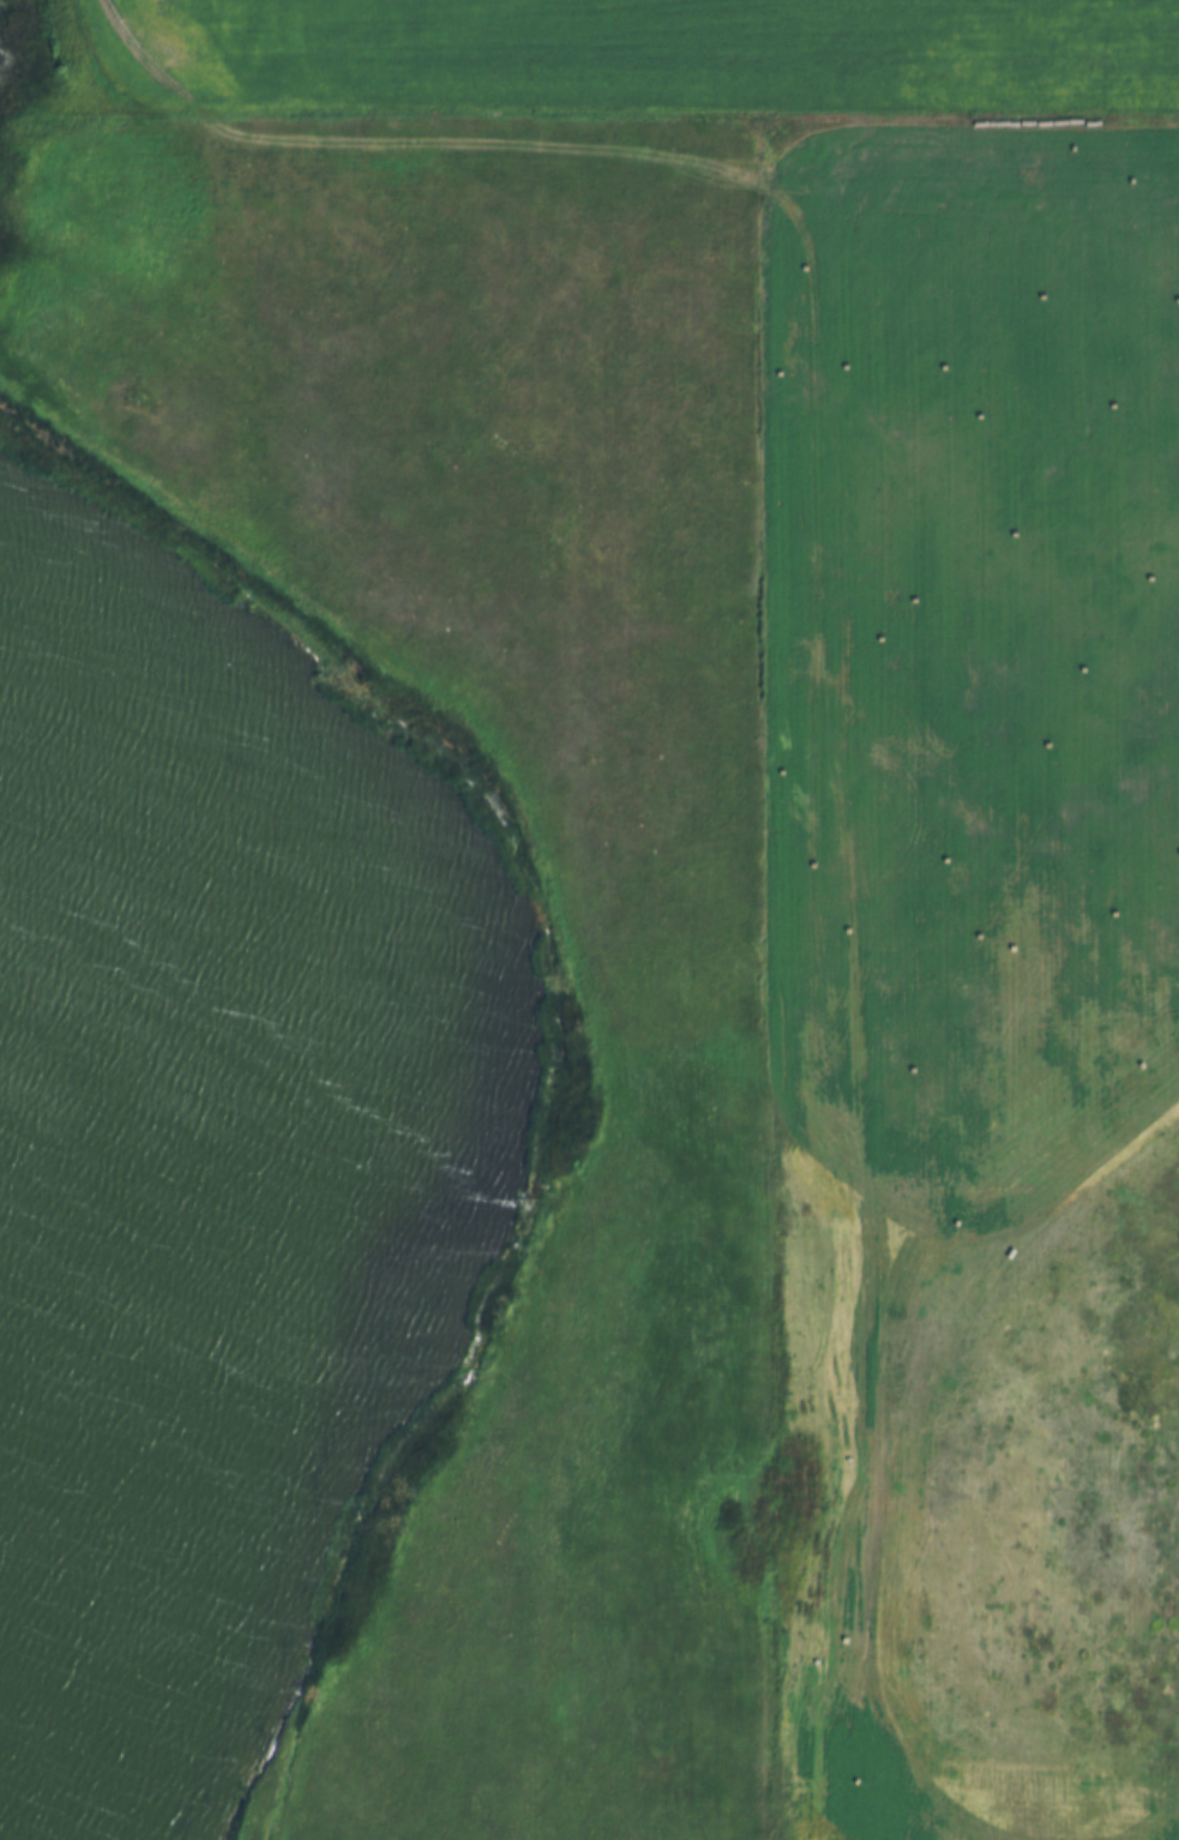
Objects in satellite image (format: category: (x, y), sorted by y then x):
road: (354, 1052)

